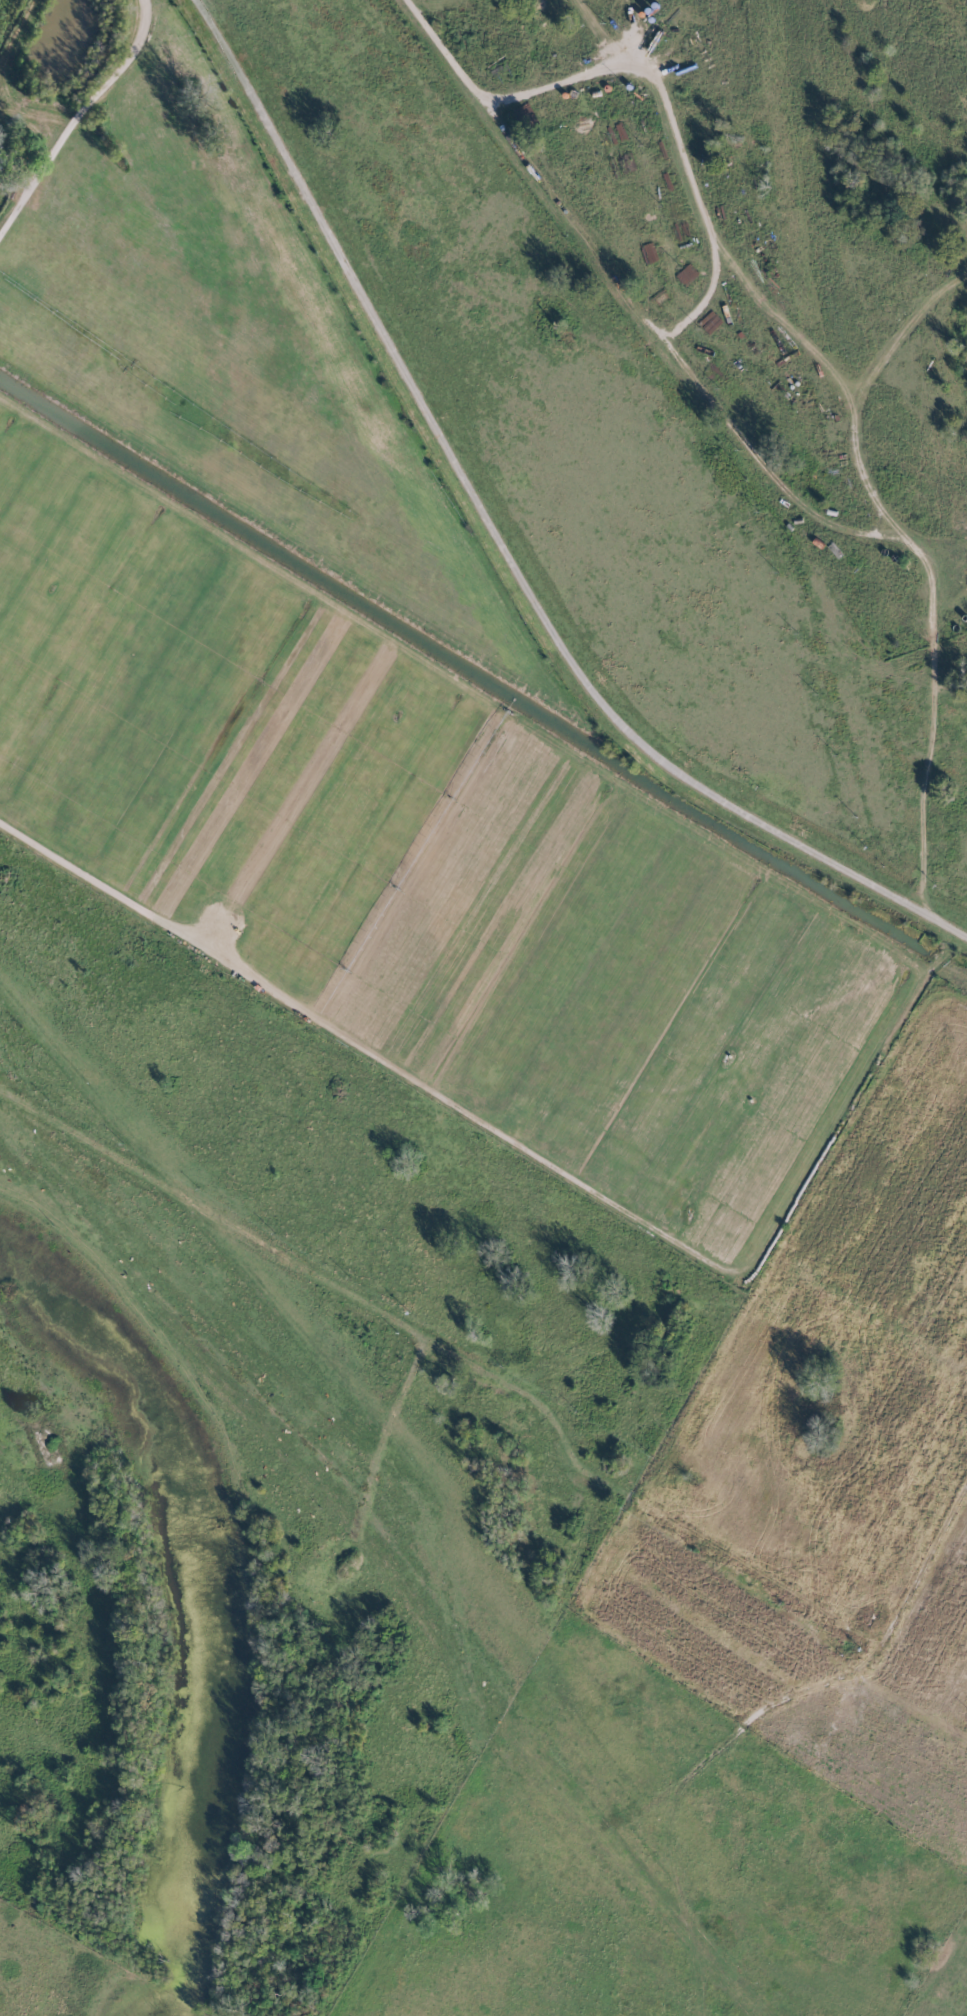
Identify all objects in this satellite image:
road: (508, 539)

